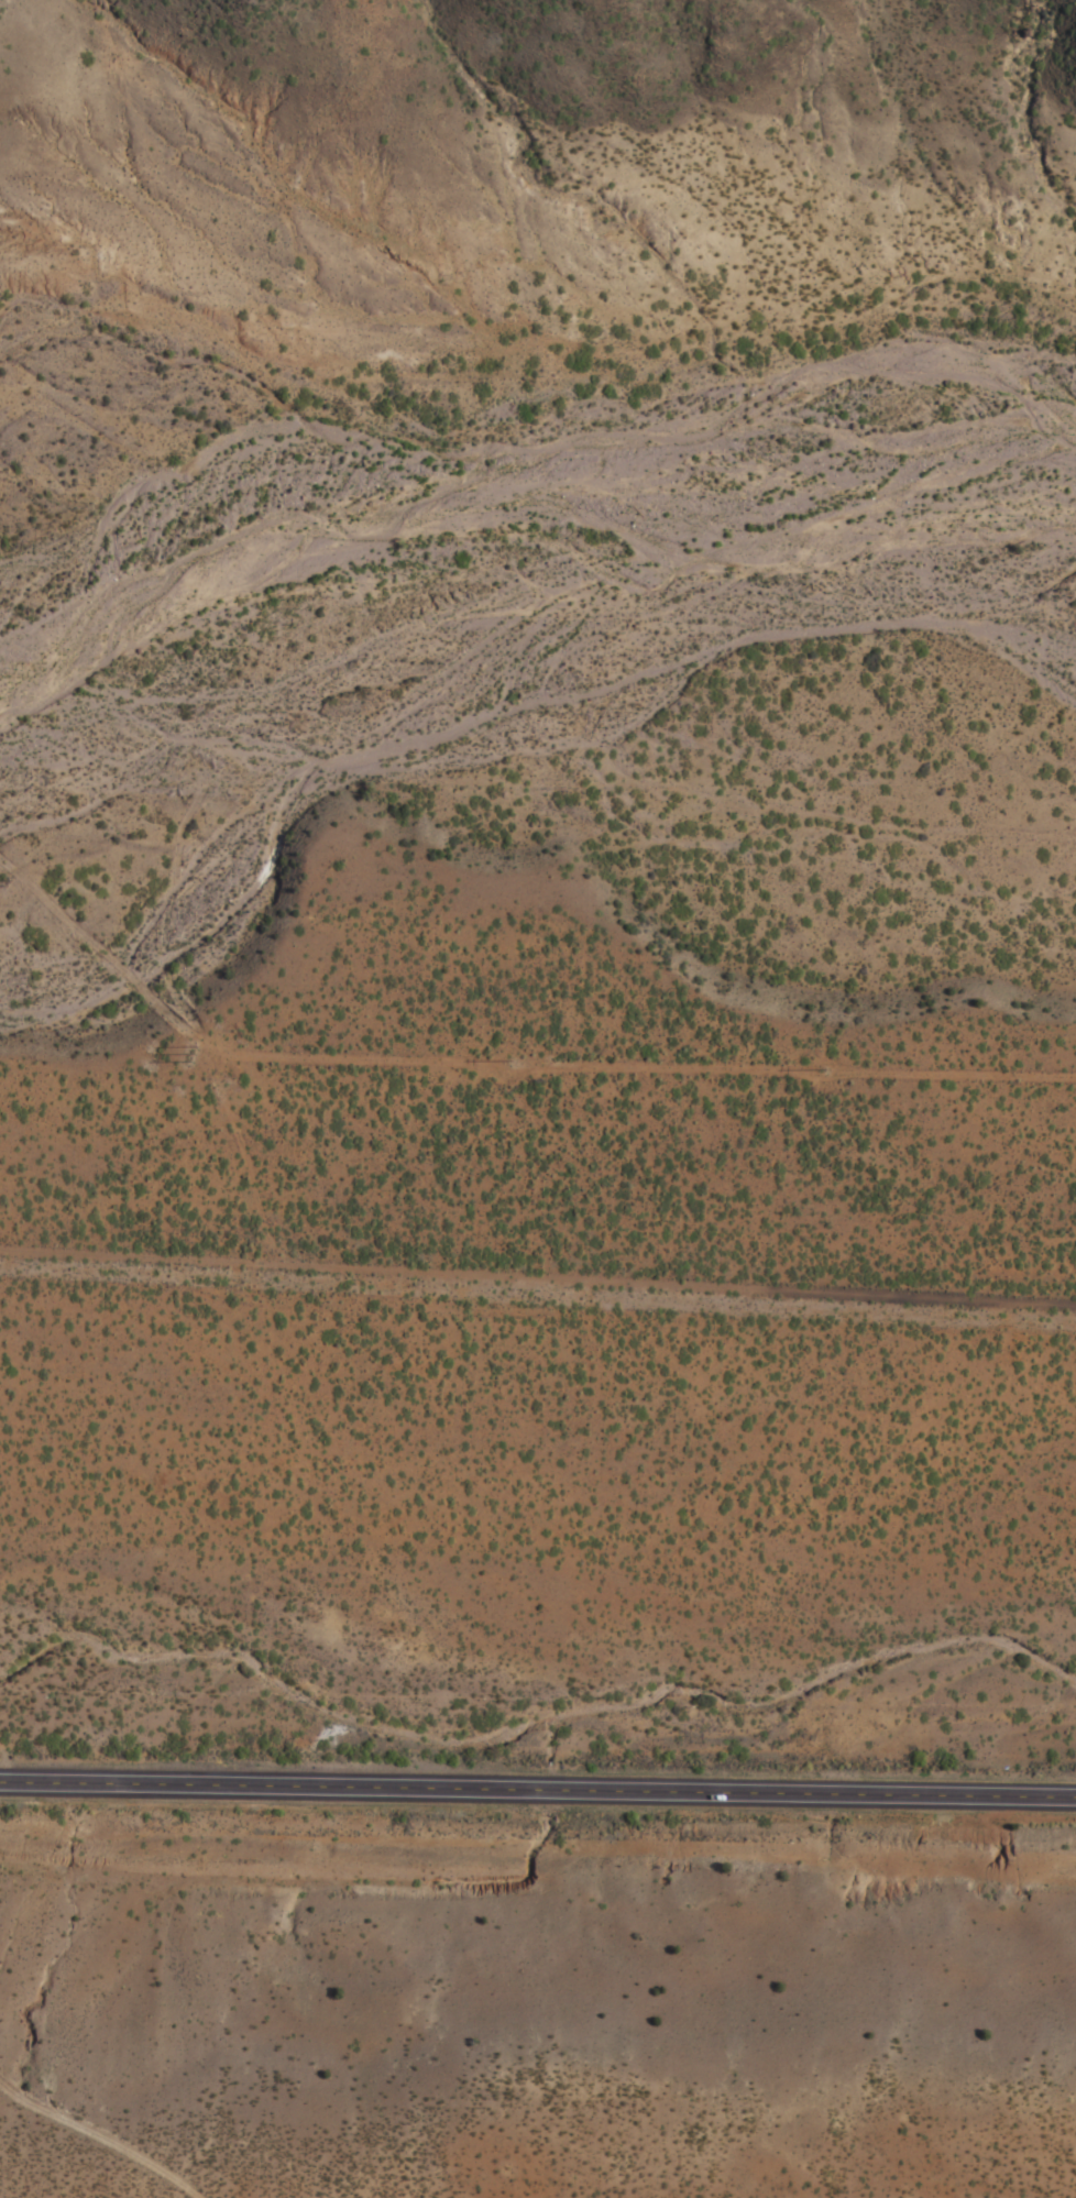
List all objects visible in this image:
road: (537, 1790)
road: (97, 2141)

